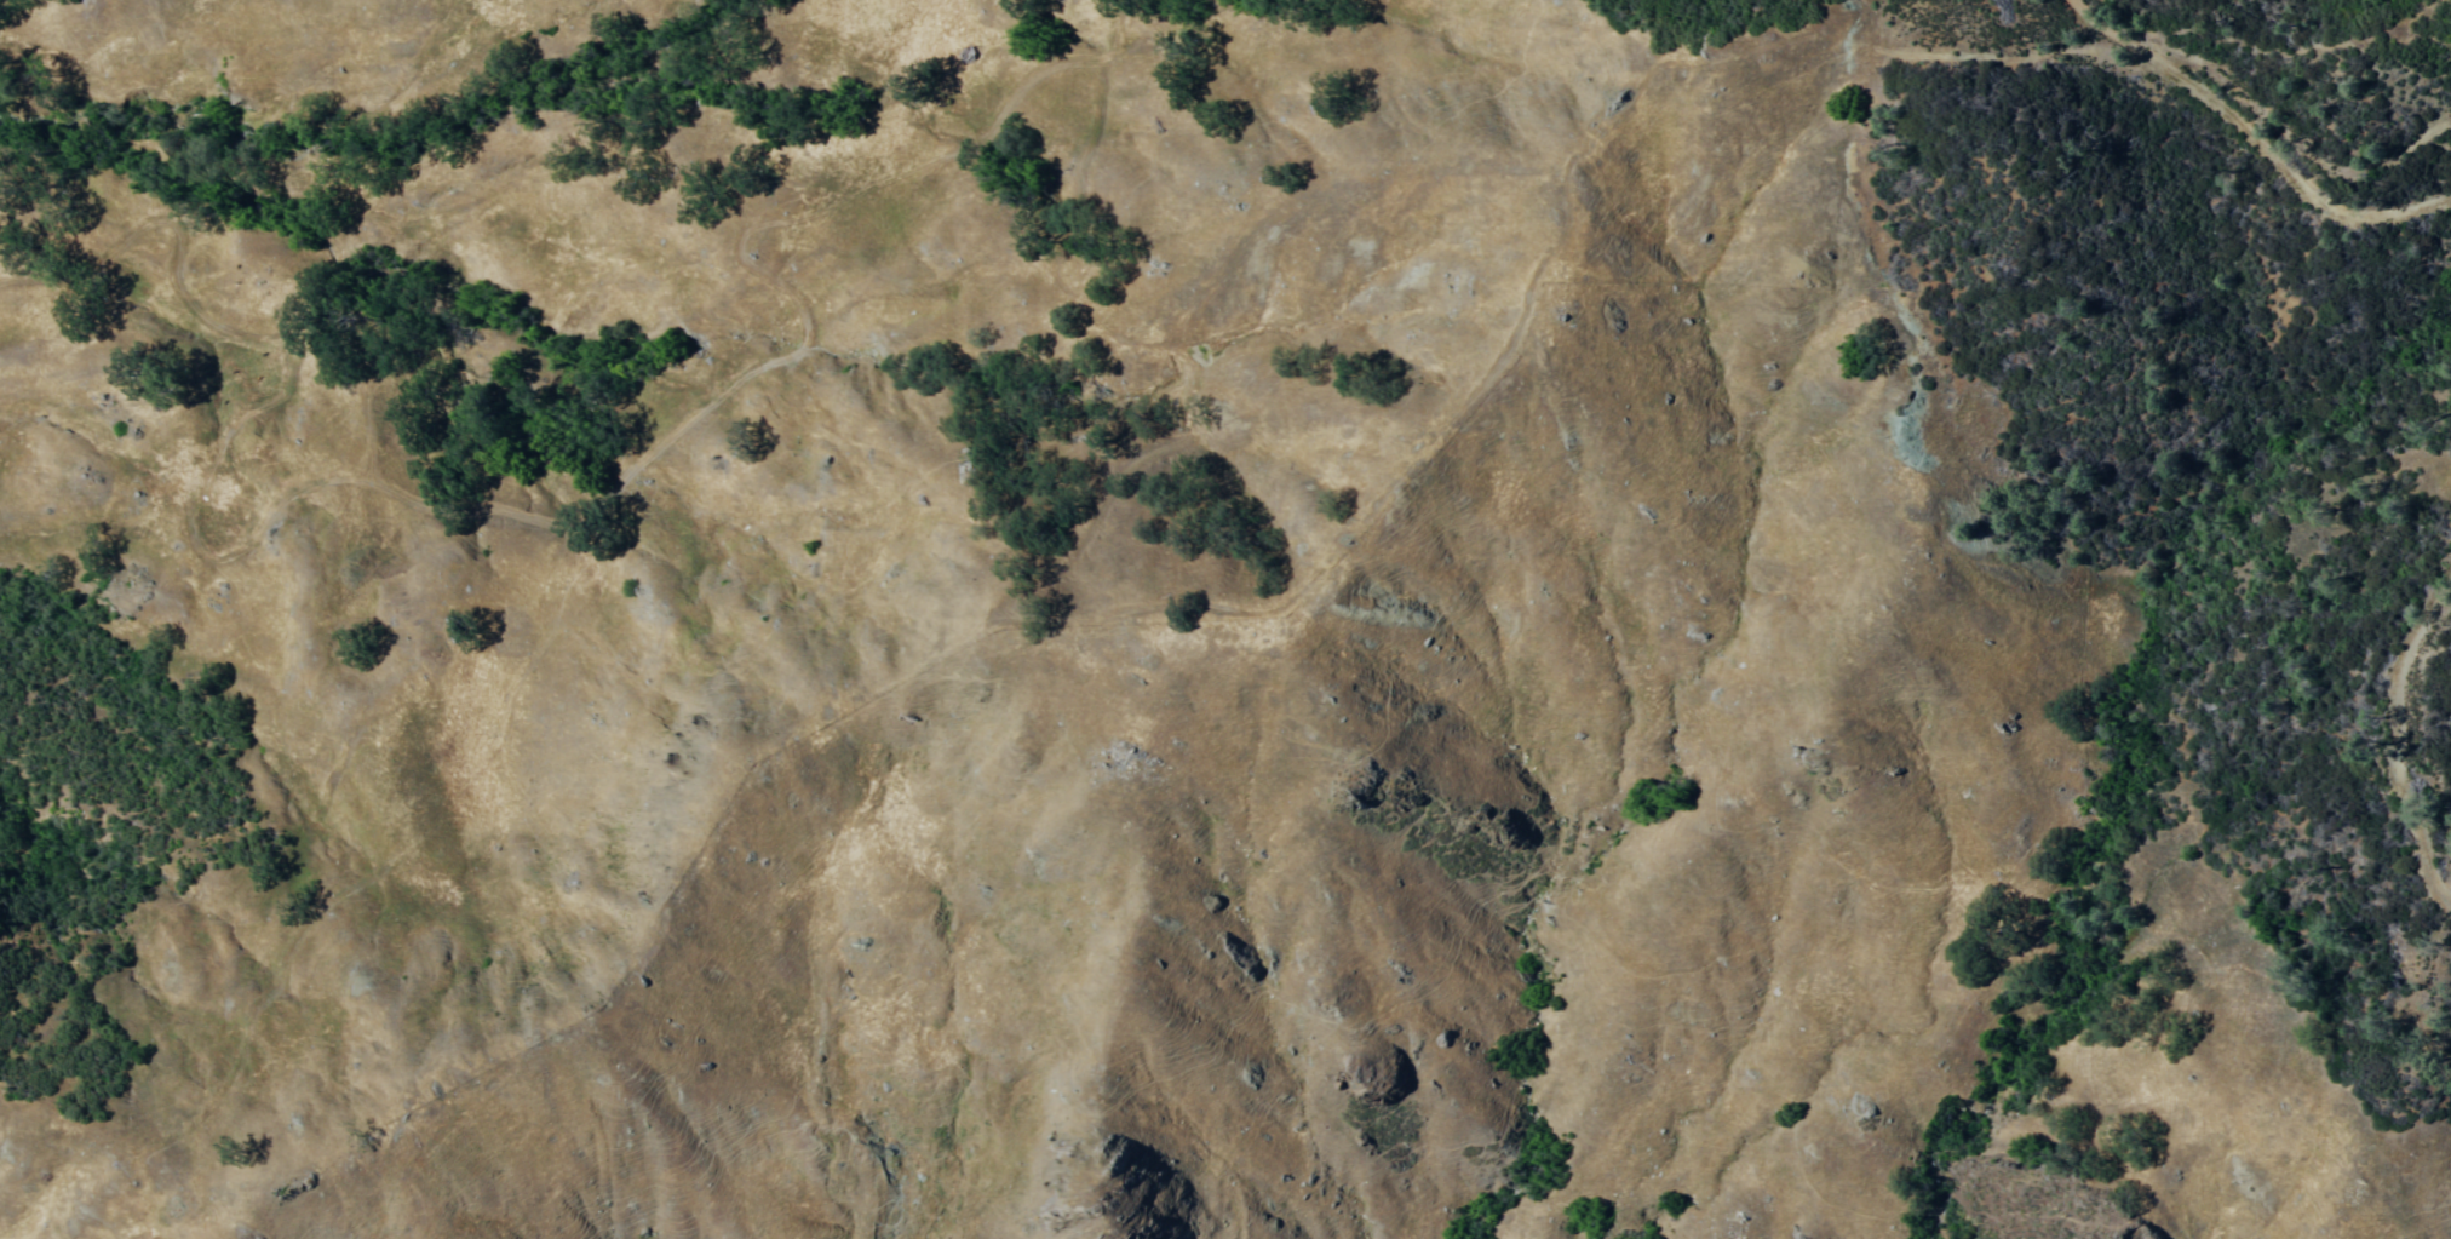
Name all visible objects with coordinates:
road: (1395, 492)
road: (2401, 741)

